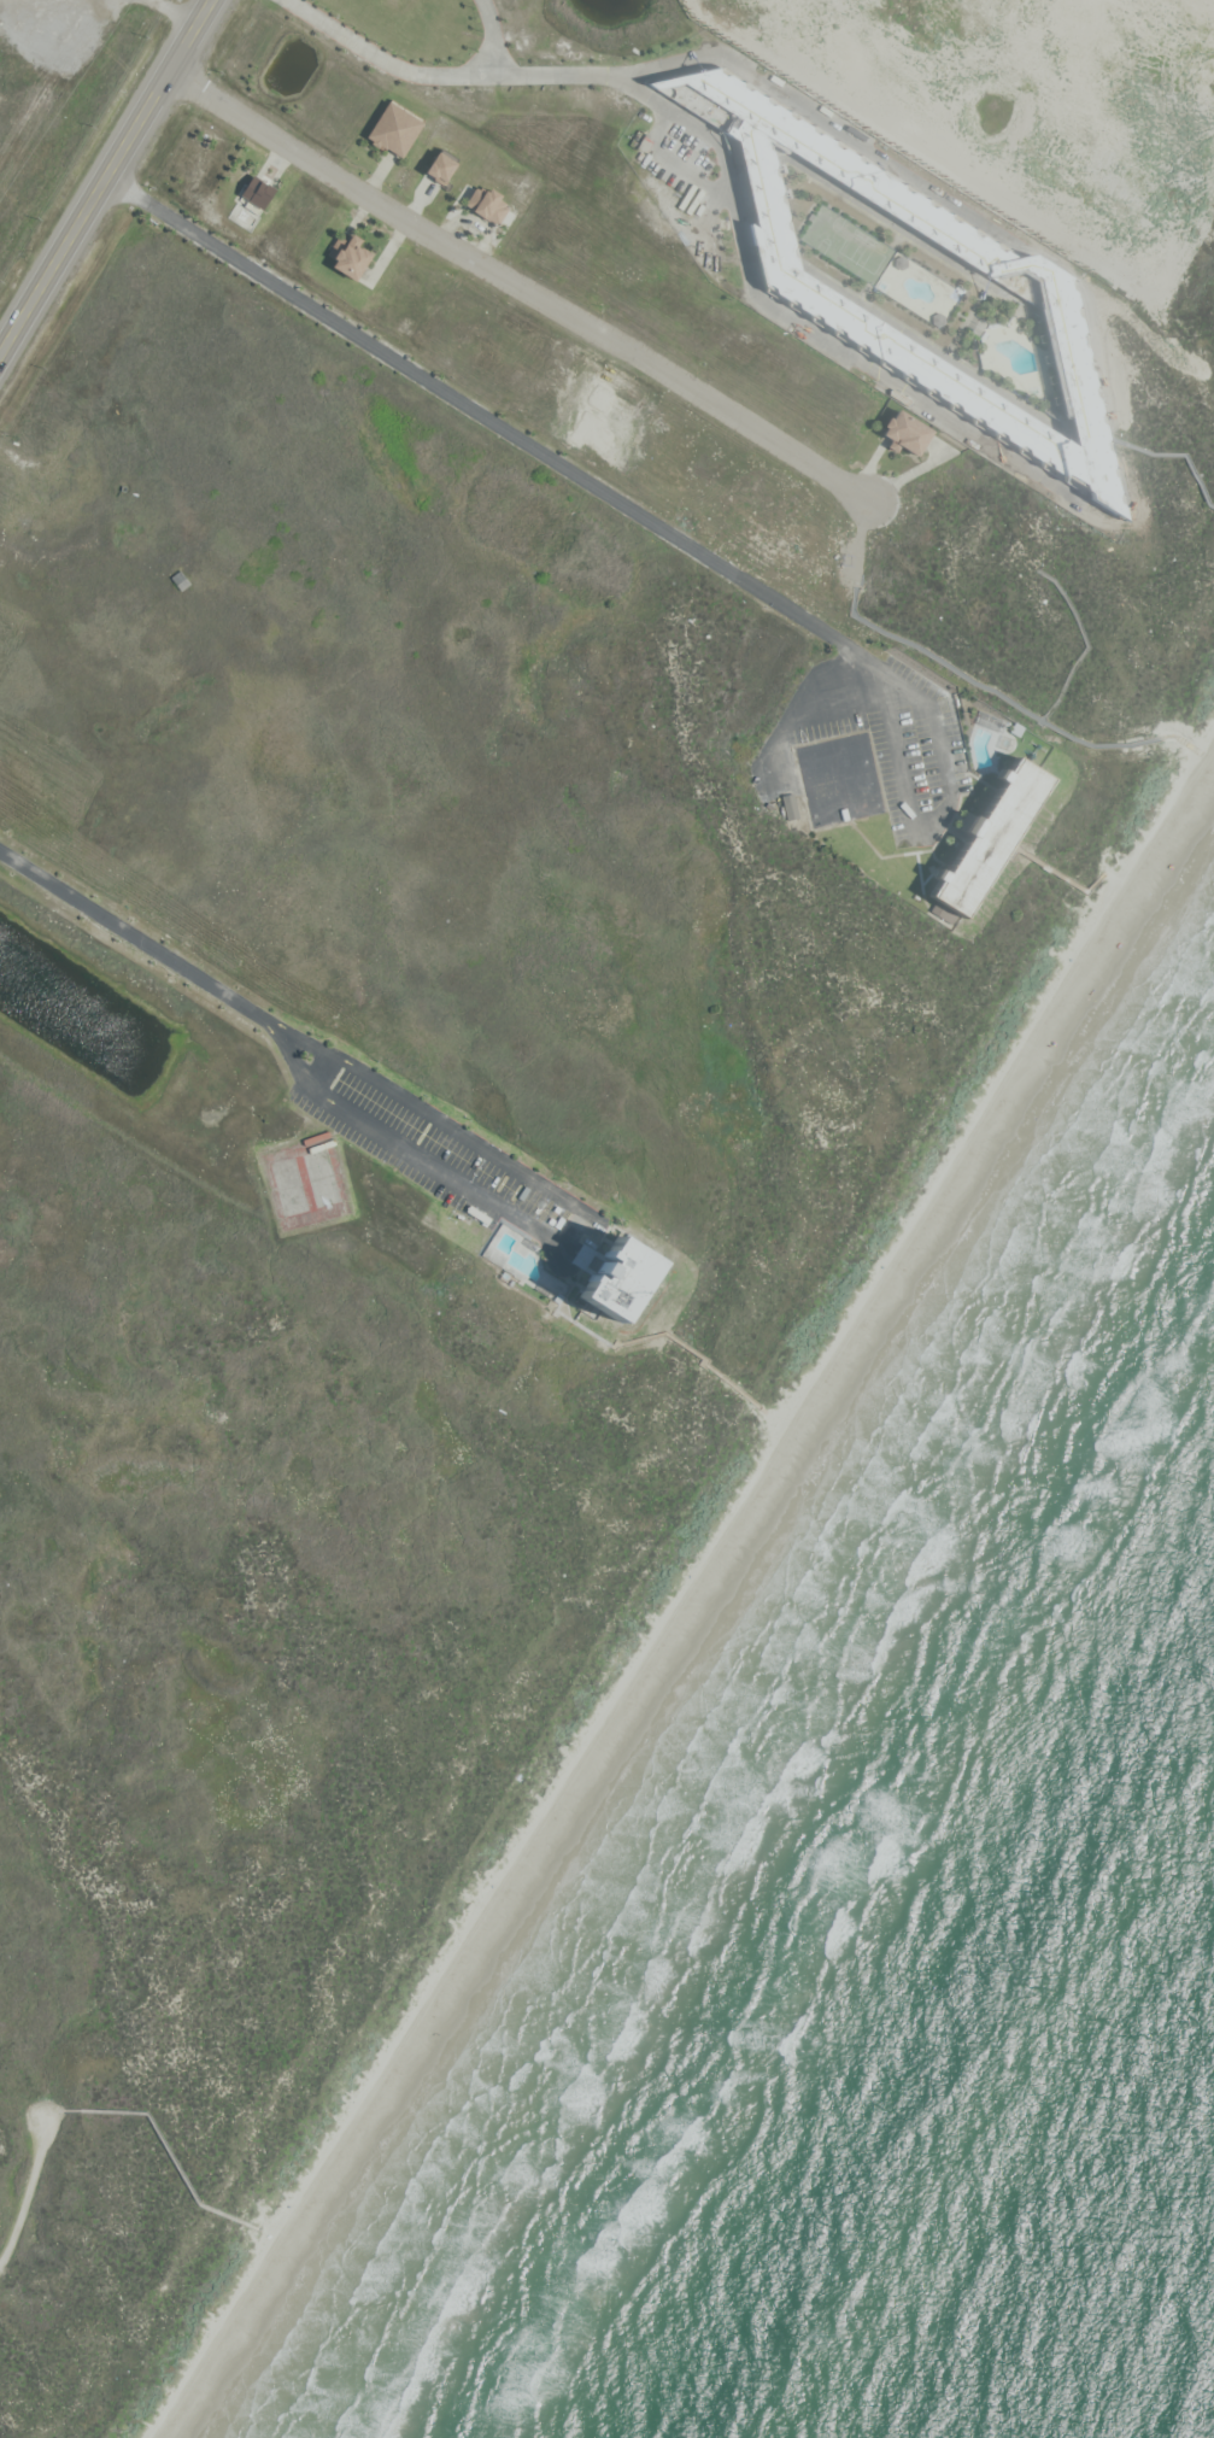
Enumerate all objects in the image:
road: (494, 37)
road: (498, 76)
building: (397, 130)
road: (105, 176)
building: (259, 194)
building: (489, 205)
building: (353, 258)
road: (520, 289)
building: (819, 300)
building: (910, 434)
road: (1174, 455)
road: (653, 524)
building: (181, 581)
road: (837, 713)
building: (791, 807)
building: (989, 838)
road: (135, 936)
road: (319, 1074)
parking lot: (429, 1149)
park: (306, 1183)
road: (570, 1233)
building: (626, 1280)
road: (688, 1588)

